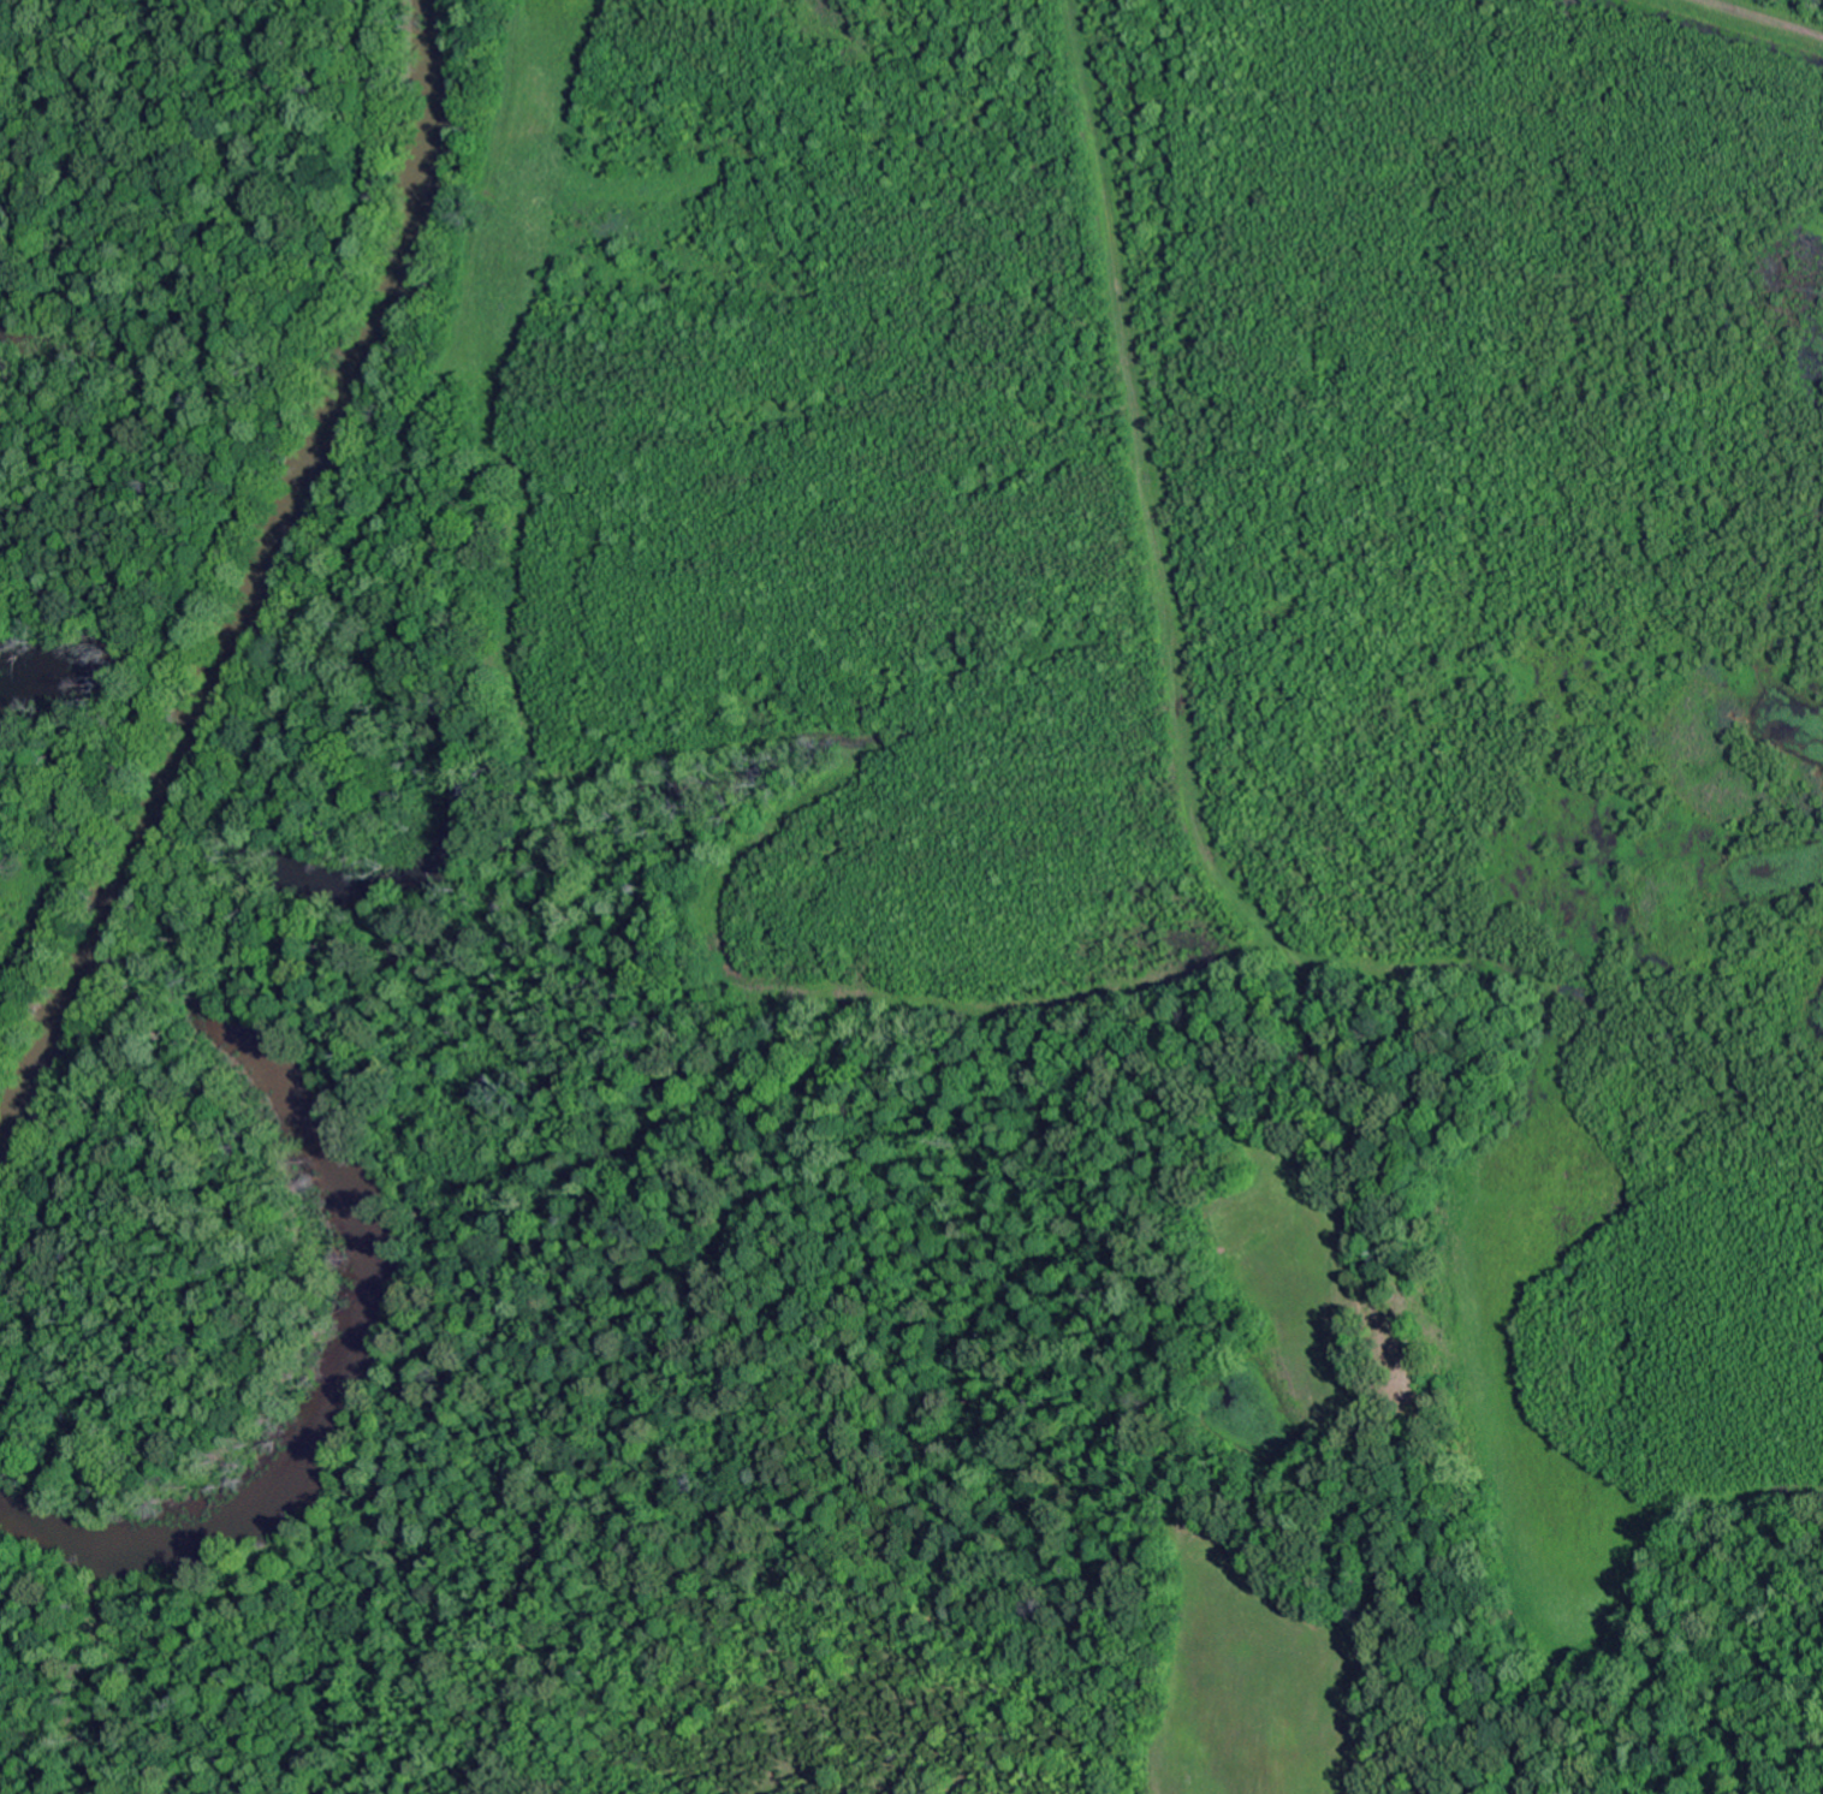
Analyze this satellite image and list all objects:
river: (260, 580)
road: (1217, 916)

